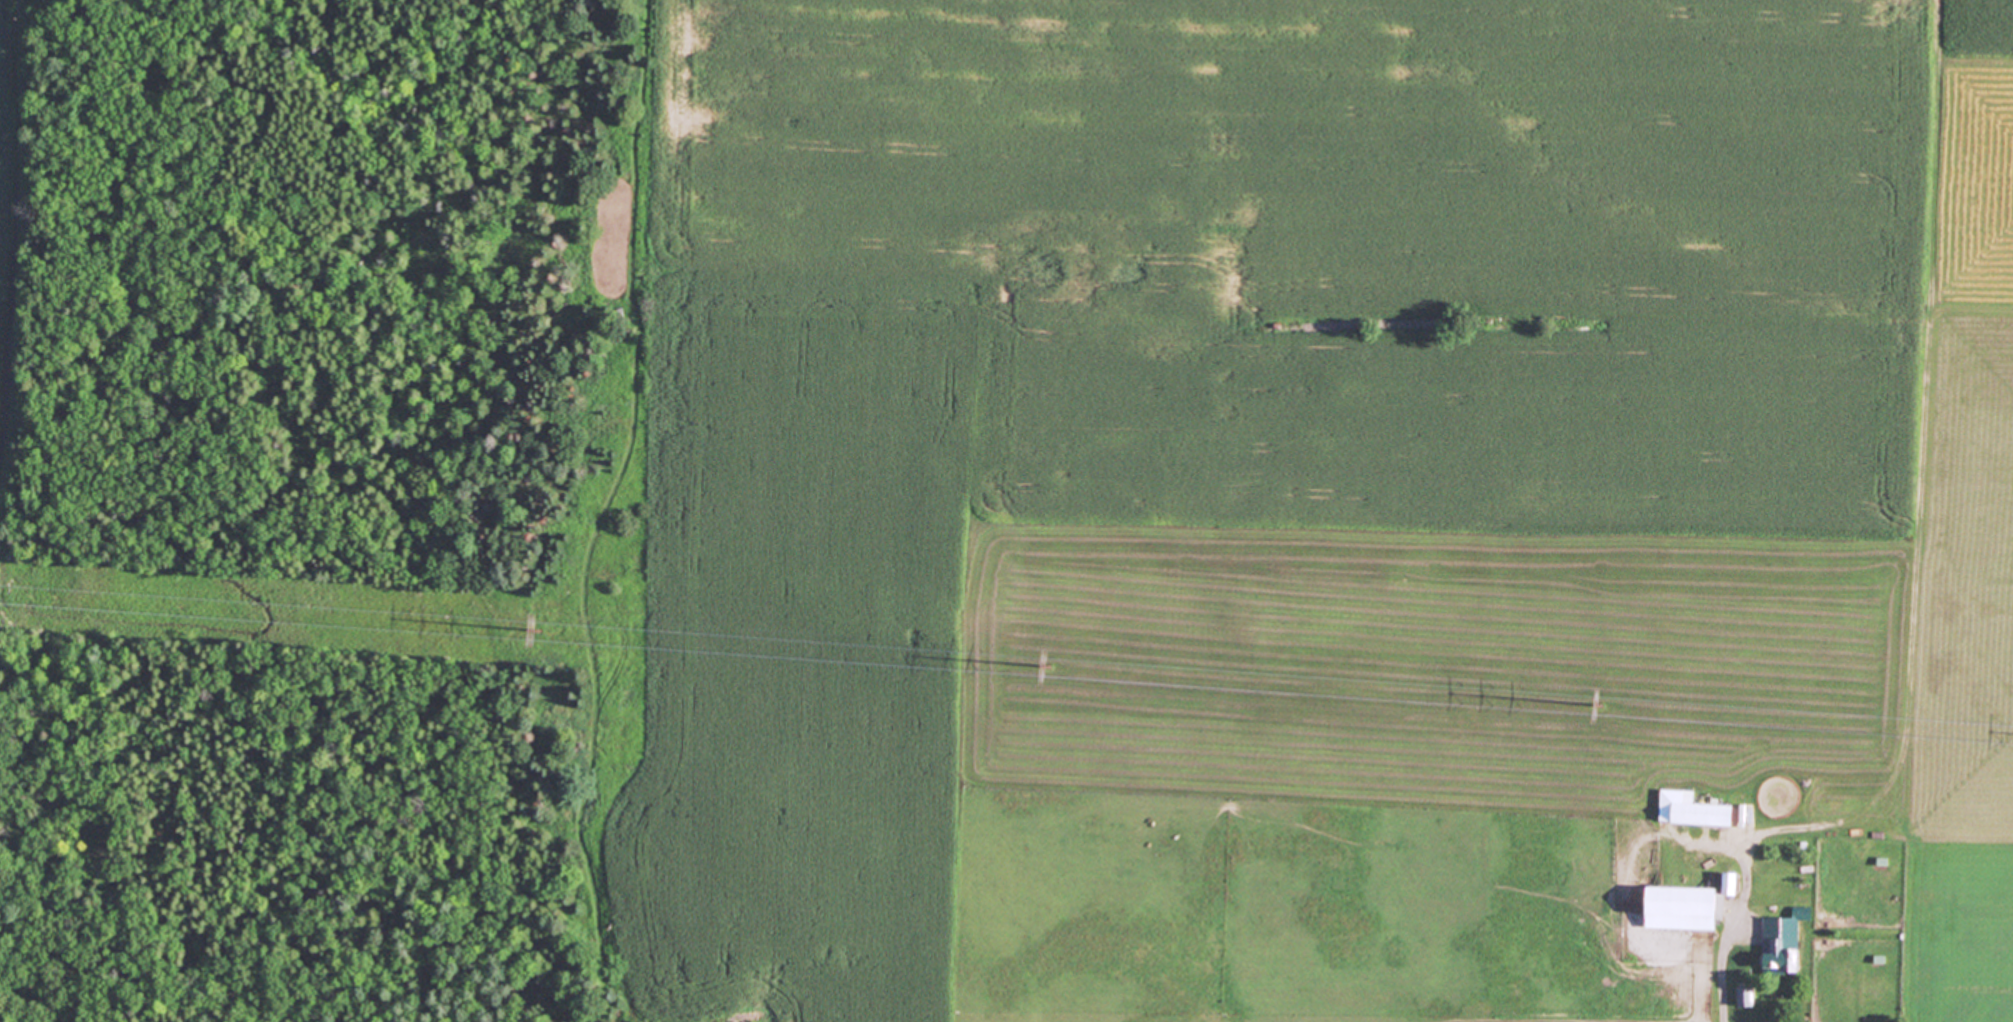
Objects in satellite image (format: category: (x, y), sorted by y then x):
power tower: (540, 629)
power tower: (1051, 665)
power tower: (1602, 705)
building: (1698, 814)
building: (1726, 884)
building: (1677, 909)
building: (1782, 940)
road: (1726, 981)
building: (1745, 997)

